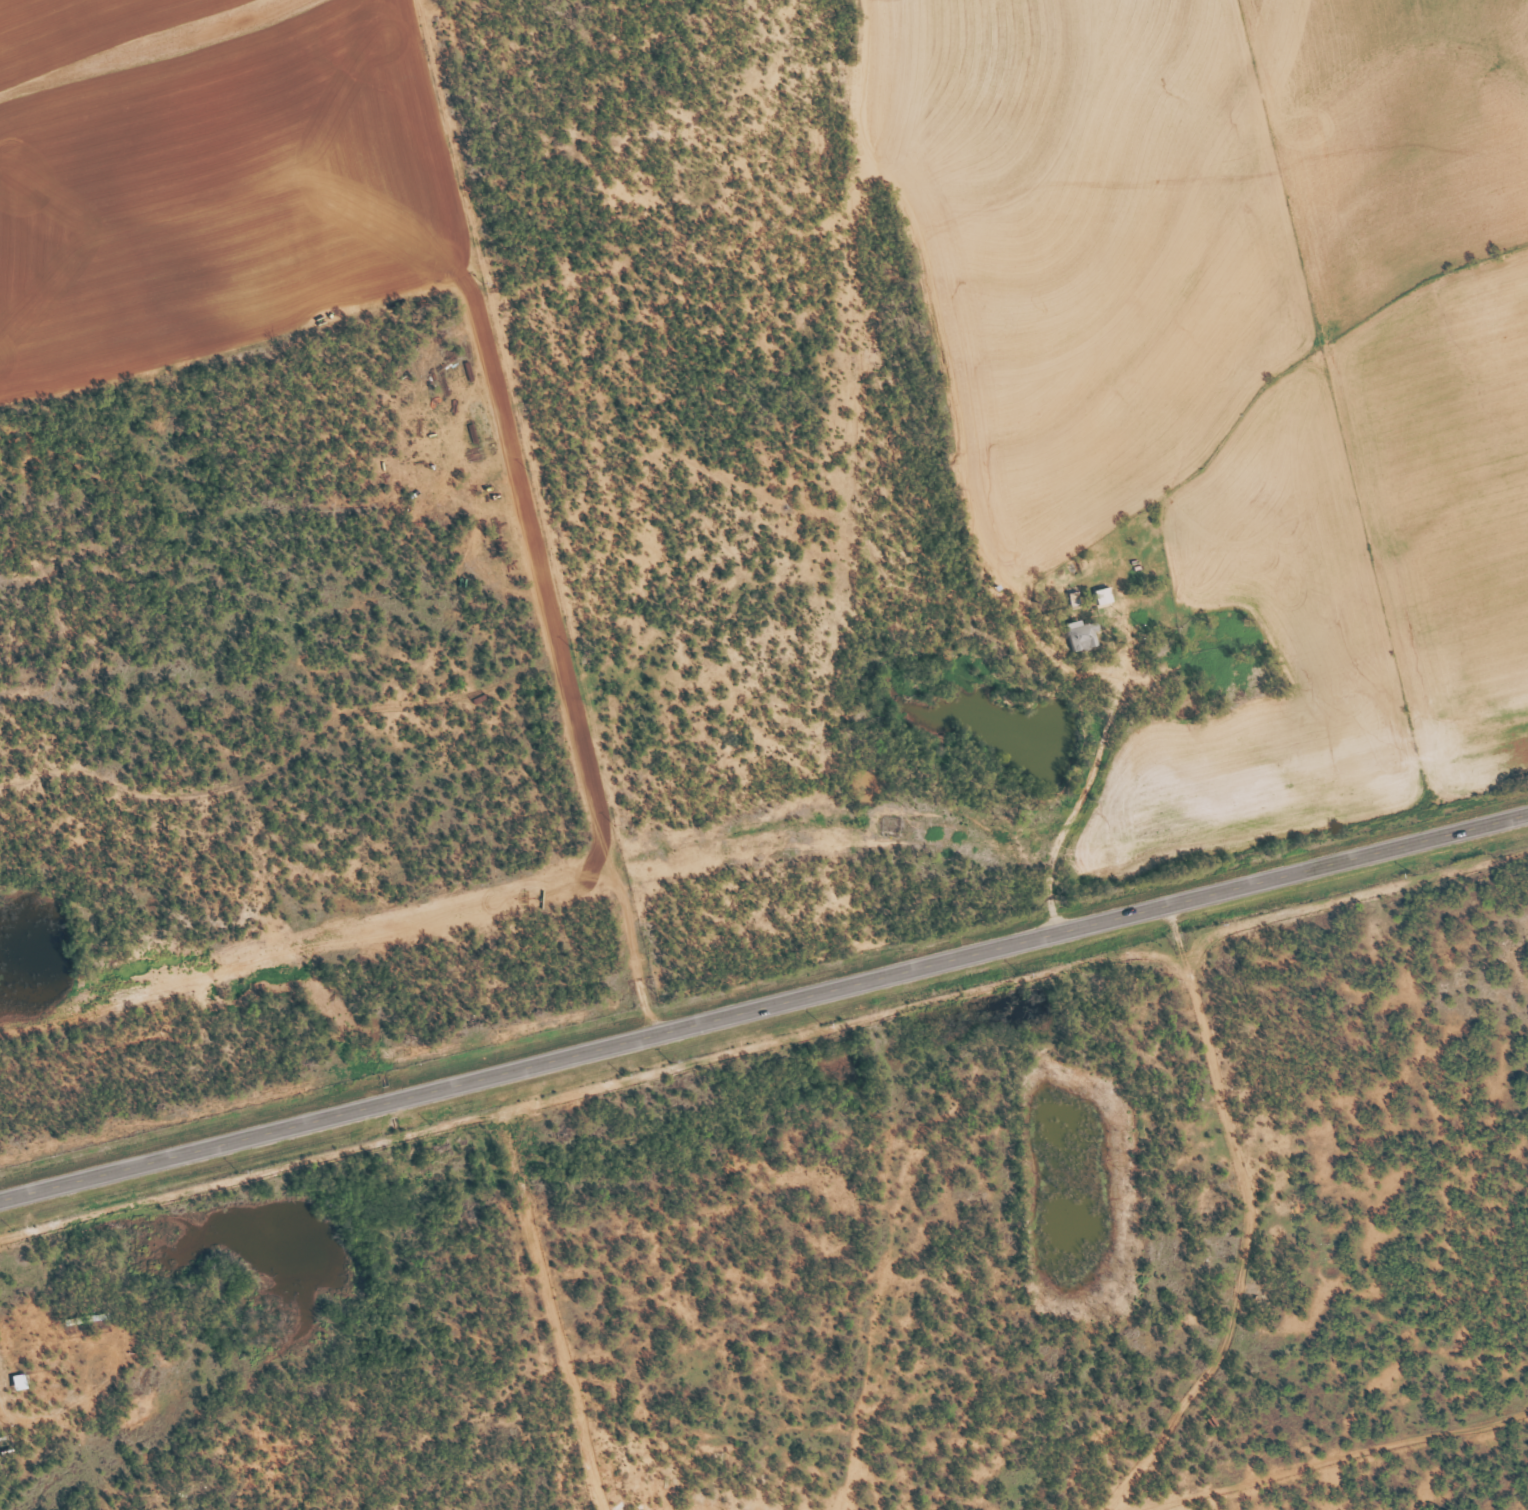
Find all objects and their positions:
building: (1104, 598)
building: (1083, 635)
road: (1085, 792)
road: (764, 1009)

